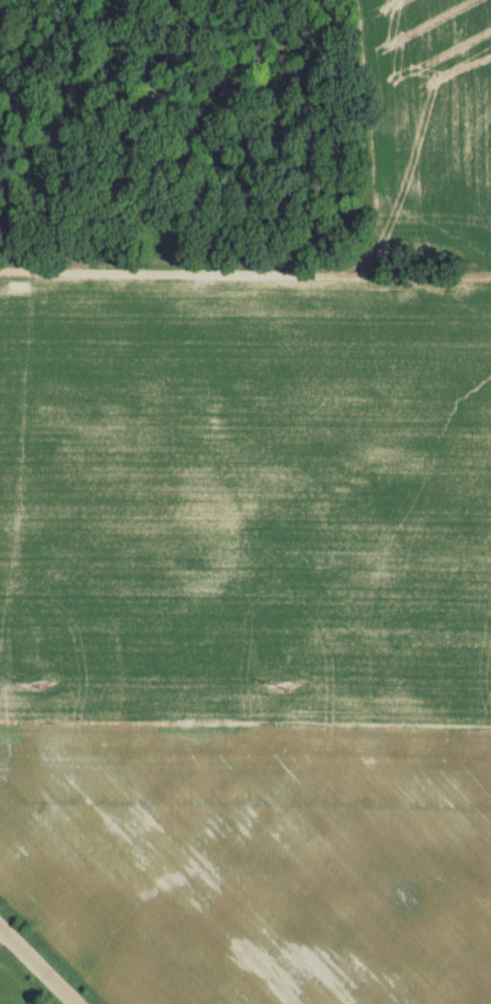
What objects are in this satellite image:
road: (37, 966)

